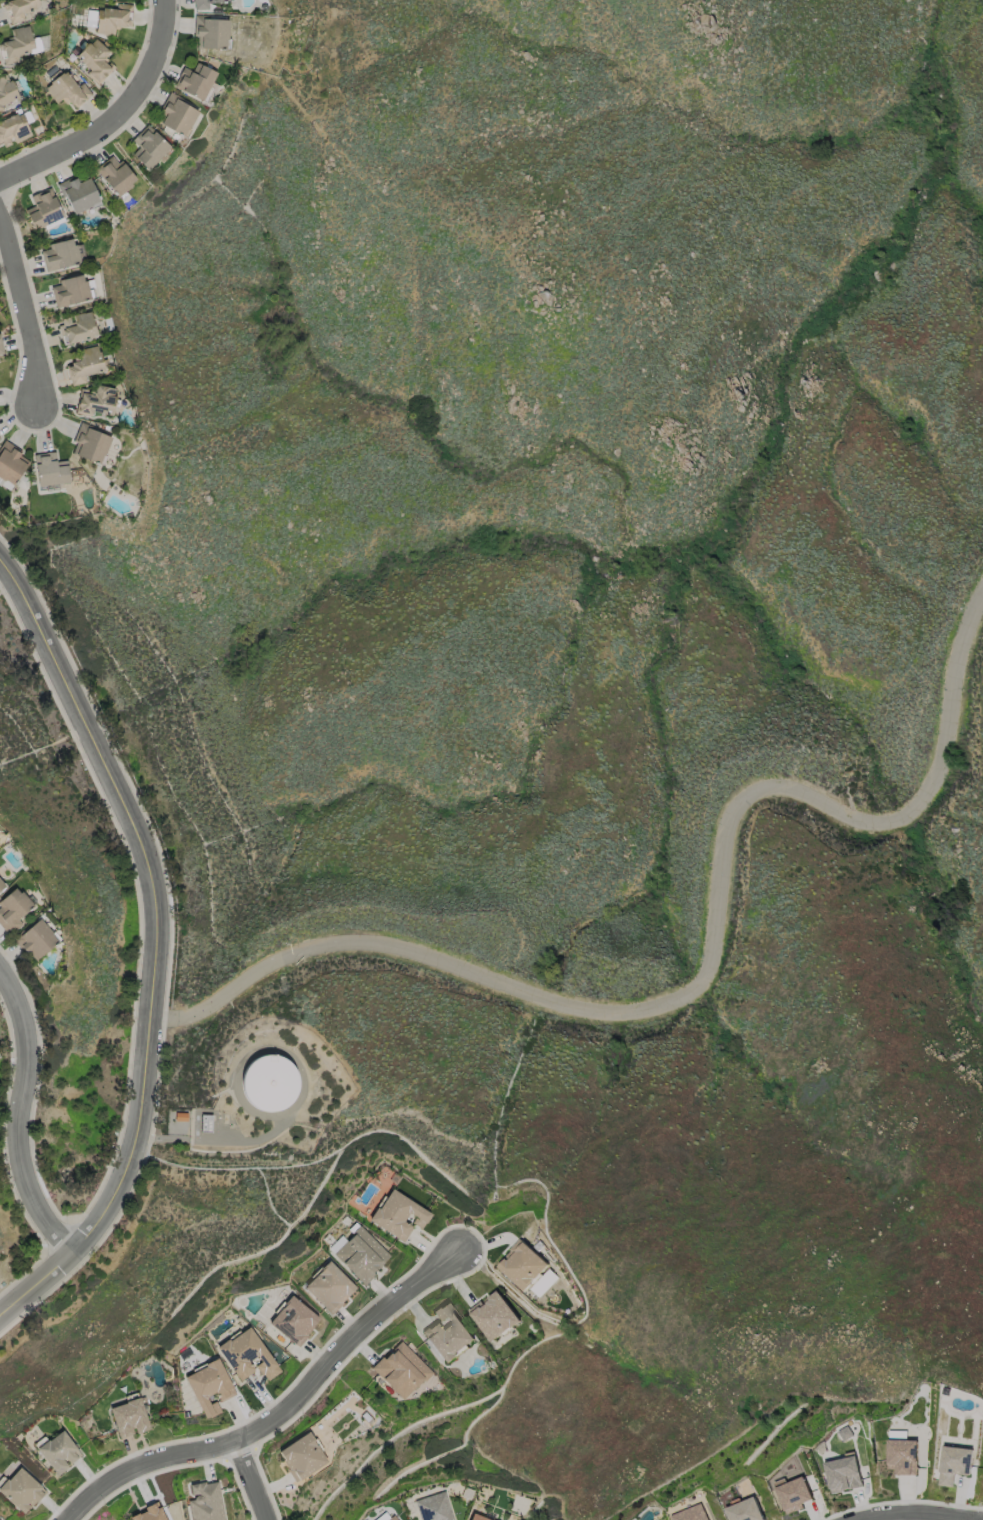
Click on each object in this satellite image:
building: (206, 3)
building: (20, 8)
building: (110, 18)
building: (213, 32)
building: (17, 45)
building: (94, 61)
building: (194, 76)
building: (67, 89)
building: (8, 90)
building: (177, 111)
road: (115, 117)
building: (16, 128)
building: (148, 143)
building: (114, 172)
building: (78, 190)
building: (42, 207)
building: (58, 251)
building: (70, 288)
road: (24, 311)
building: (76, 324)
building: (0, 349)
building: (83, 361)
building: (95, 398)
building: (89, 440)
building: (10, 461)
building: (48, 468)
building: (2, 886)
road: (154, 897)
building: (14, 910)
building: (38, 940)
road: (702, 973)
building: (268, 1082)
road: (20, 1115)
building: (398, 1215)
building: (361, 1254)
building: (523, 1266)
road: (37, 1283)
building: (330, 1289)
building: (495, 1317)
building: (294, 1322)
building: (449, 1333)
building: (247, 1356)
building: (401, 1369)
building: (210, 1387)
road: (279, 1411)
building: (130, 1418)
building: (58, 1451)
building: (902, 1454)
building: (302, 1457)
building: (955, 1464)
building: (843, 1473)
road: (249, 1480)
building: (21, 1489)
building: (794, 1493)
building: (206, 1500)
building: (435, 1507)
building: (745, 1510)
building: (149, 1513)
building: (691, 1513)
road: (914, 1514)
building: (387, 1516)
building: (477, 1517)
building: (0, 1519)

